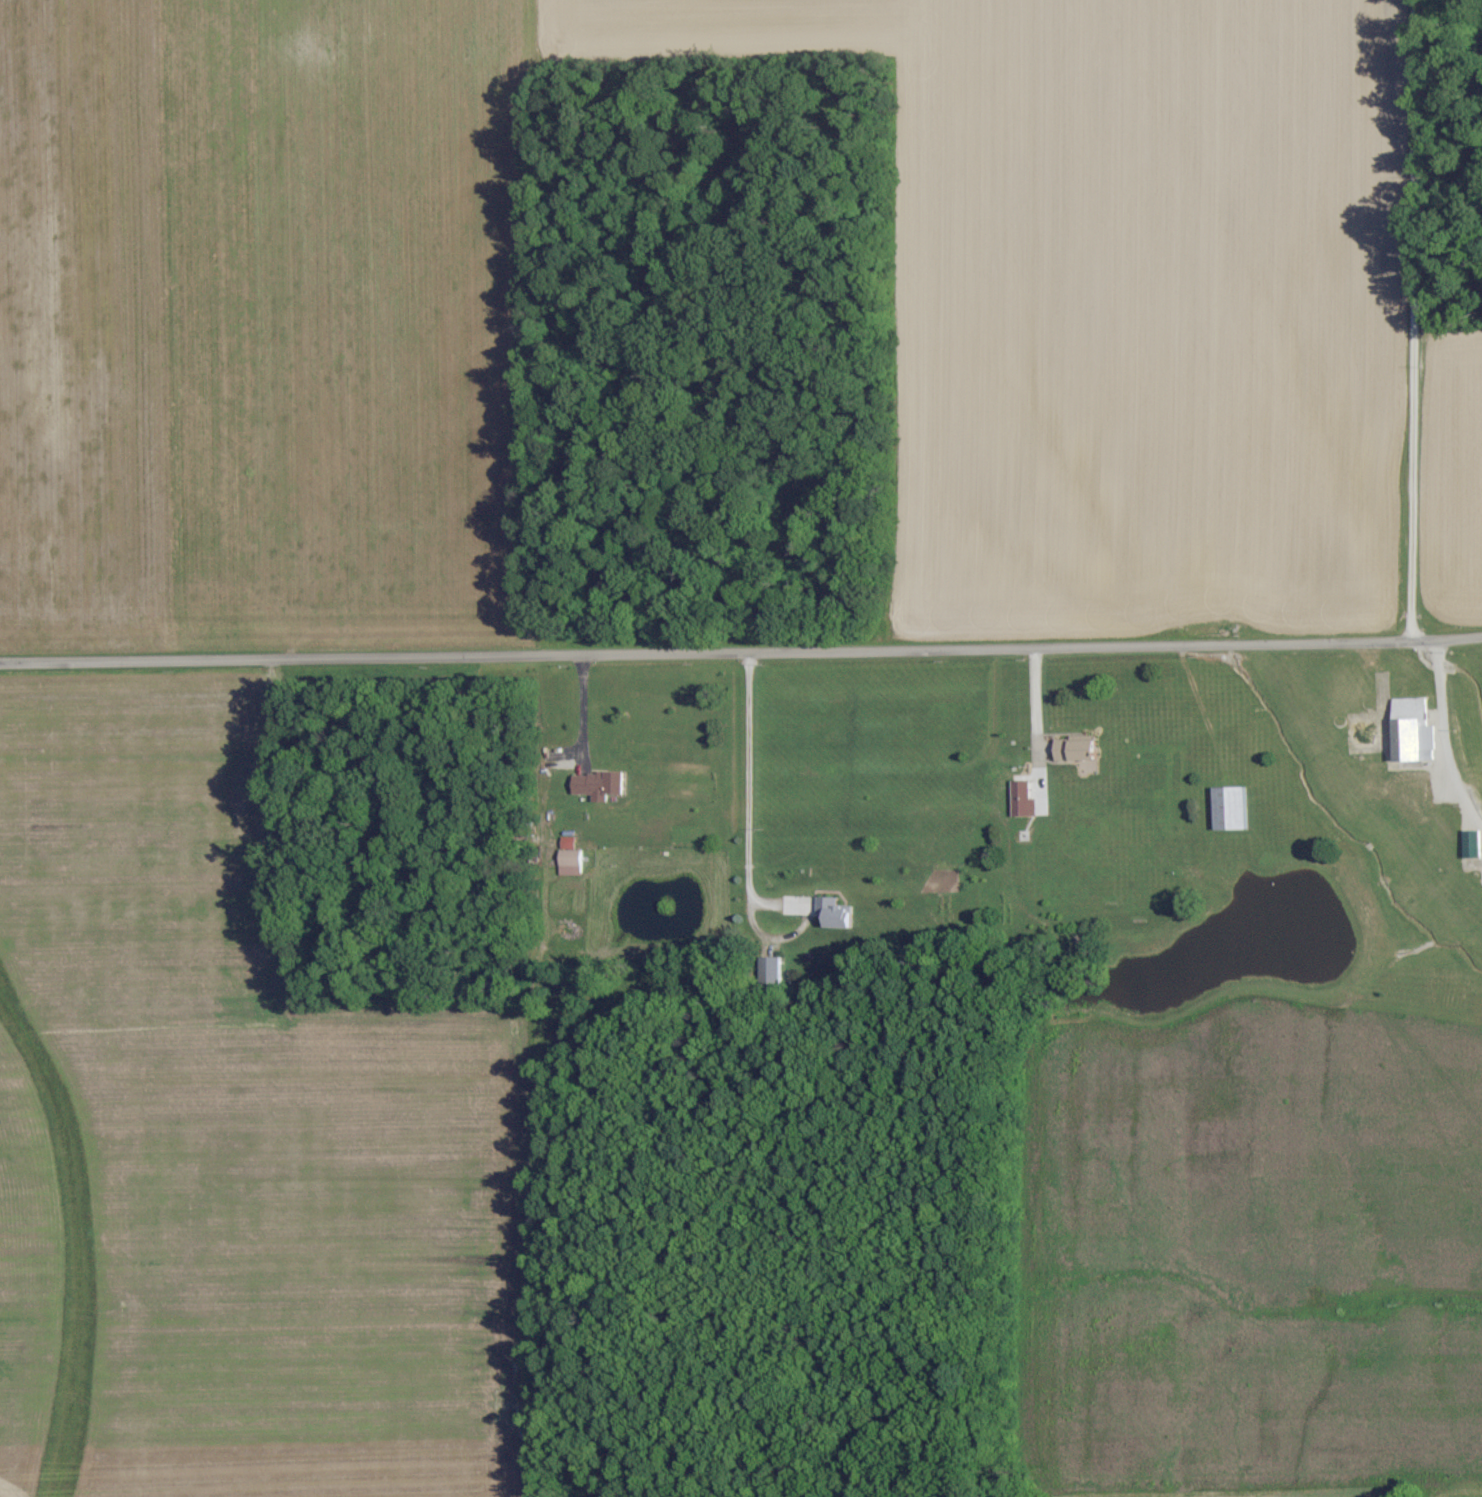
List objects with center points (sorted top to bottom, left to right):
road: (1409, 322)
road: (741, 653)
road: (1031, 709)
road: (580, 712)
building: (1410, 732)
road: (1440, 736)
building: (1073, 751)
building: (596, 786)
building: (1019, 800)
road: (748, 825)
building: (1470, 845)
building: (567, 859)
building: (832, 915)
building: (769, 971)

